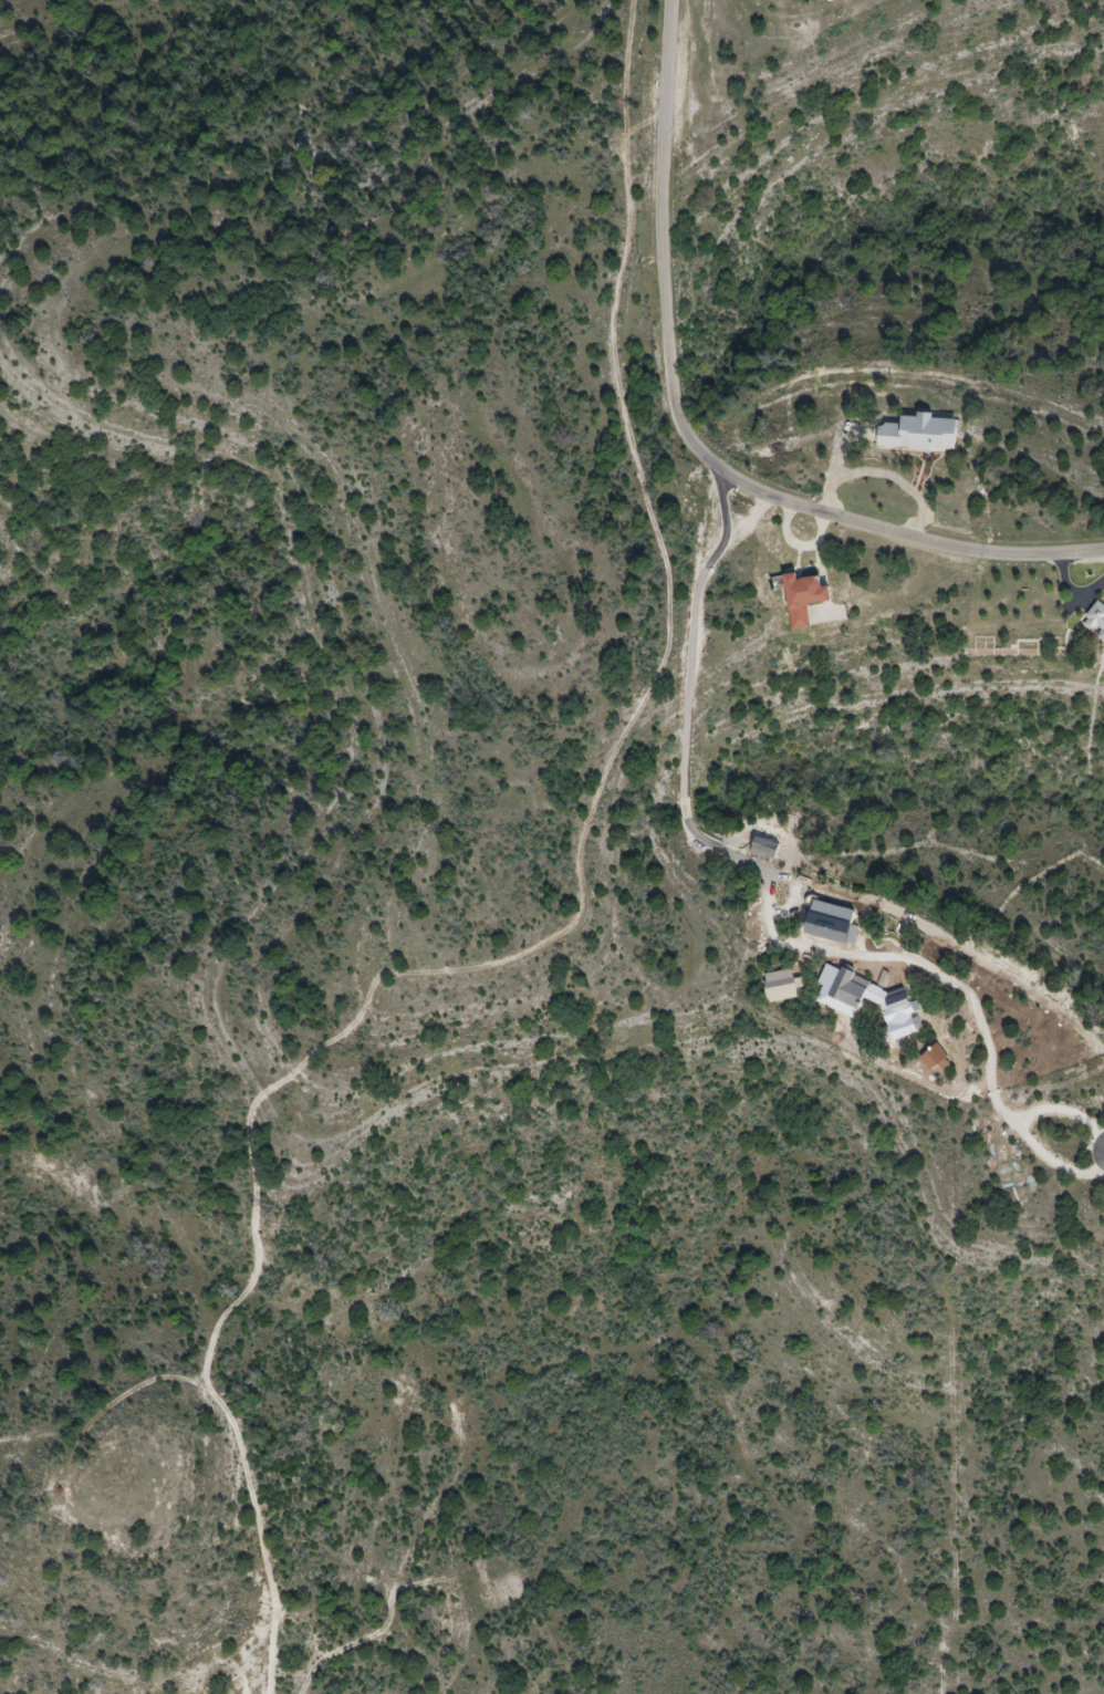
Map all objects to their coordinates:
road: (691, 435)
building: (919, 435)
road: (881, 472)
building: (804, 596)
building: (1096, 619)
road: (730, 855)

